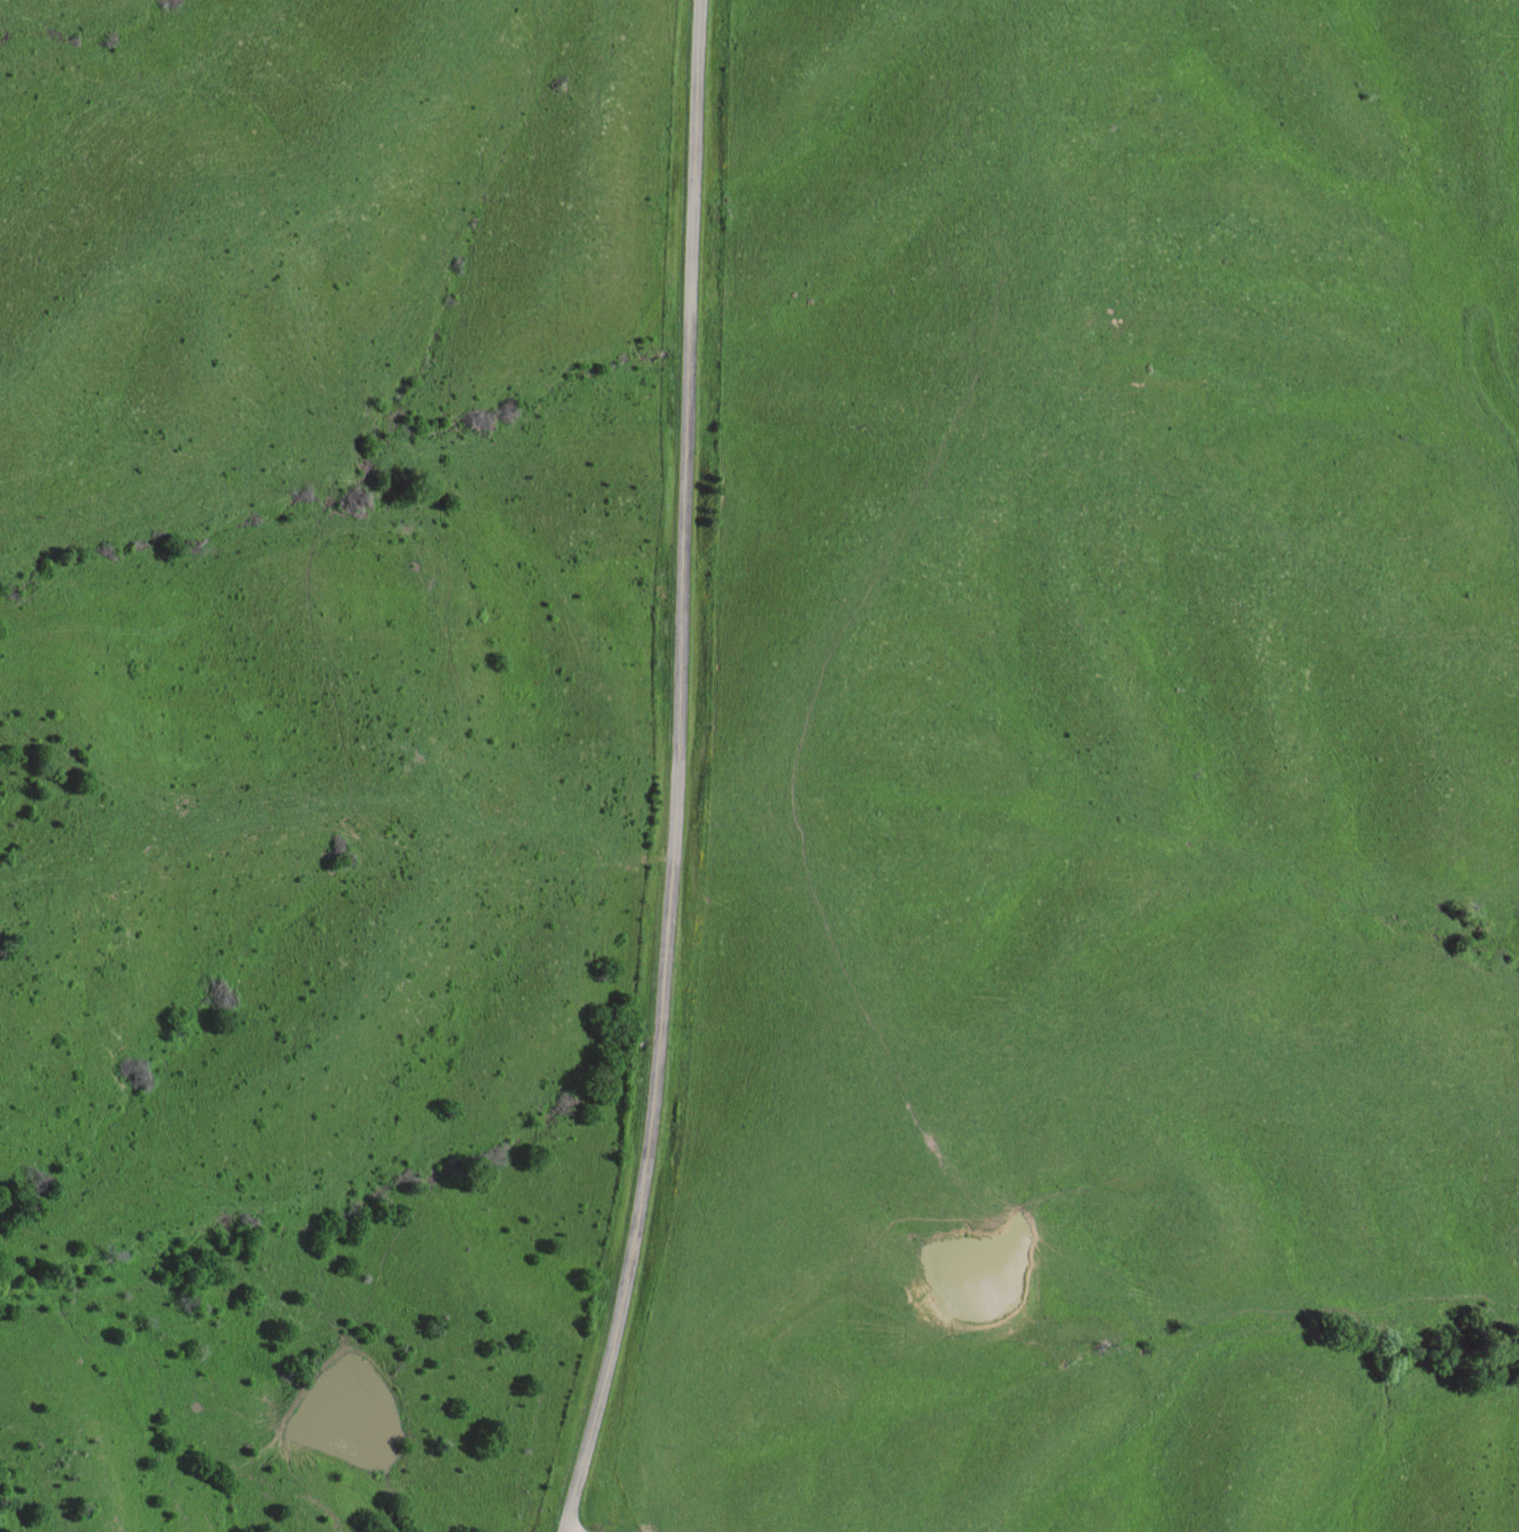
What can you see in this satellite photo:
road: (675, 770)

